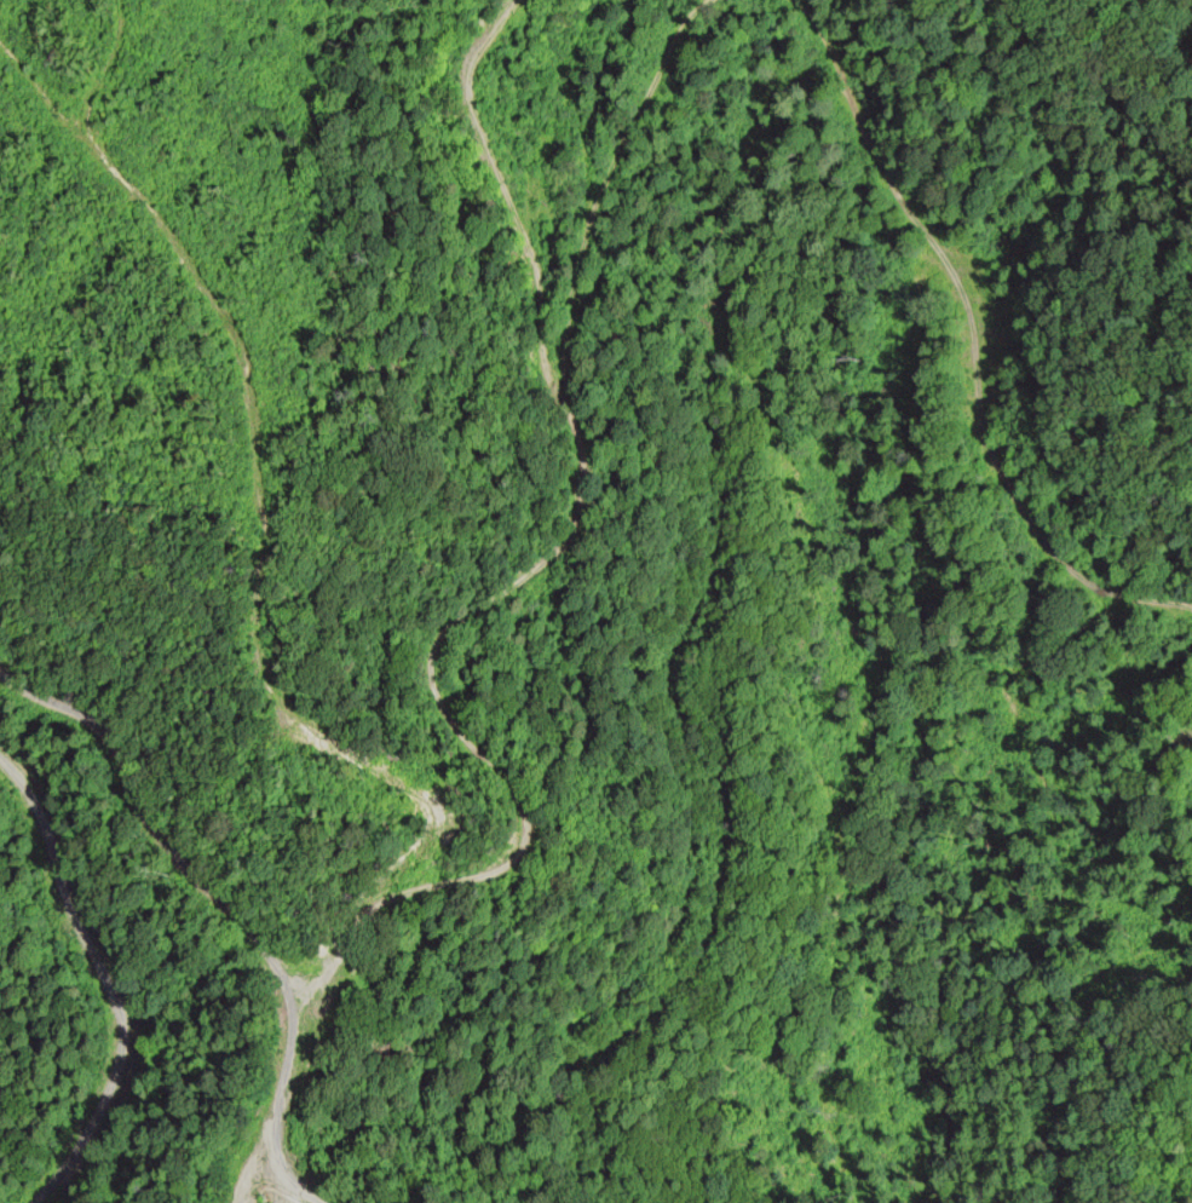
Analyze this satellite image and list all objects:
road: (220, 910)
road: (98, 983)

